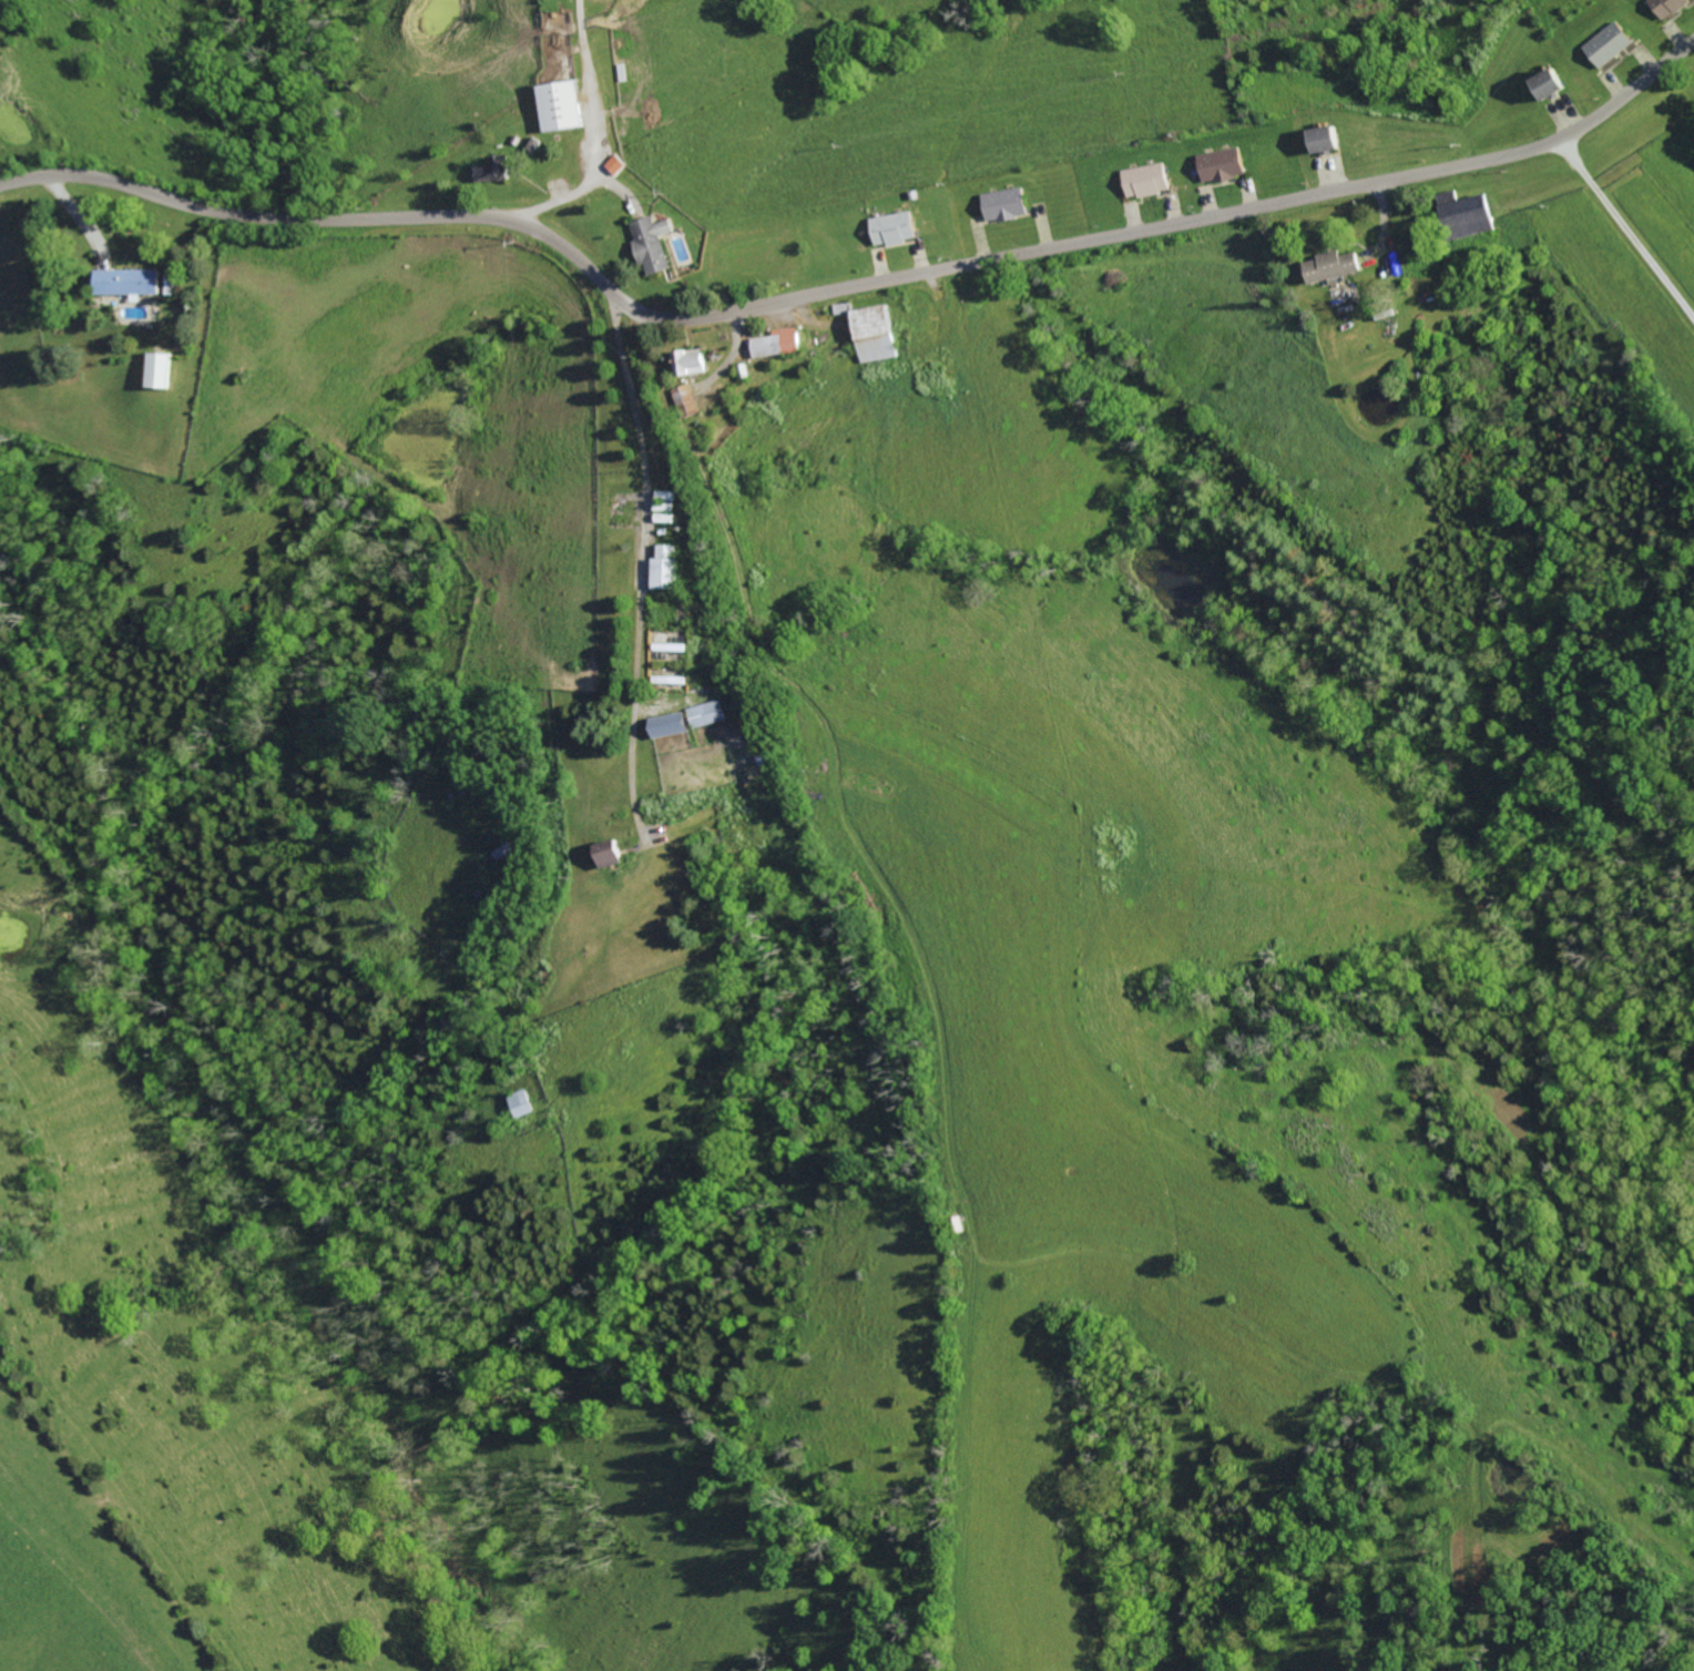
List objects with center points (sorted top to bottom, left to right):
building: (1669, 7)
building: (1611, 44)
building: (1551, 85)
building: (562, 106)
building: (1328, 141)
building: (618, 165)
building: (1224, 165)
building: (492, 171)
building: (1149, 181)
building: (1007, 205)
building: (1469, 215)
road: (1625, 226)
building: (896, 230)
building: (654, 244)
building: (1333, 267)
building: (127, 283)
road: (850, 286)
building: (878, 334)
building: (780, 344)
building: (693, 363)
building: (687, 399)
road: (644, 562)
building: (669, 568)
building: (711, 714)
building: (672, 725)
building: (612, 855)
road: (825, 918)

